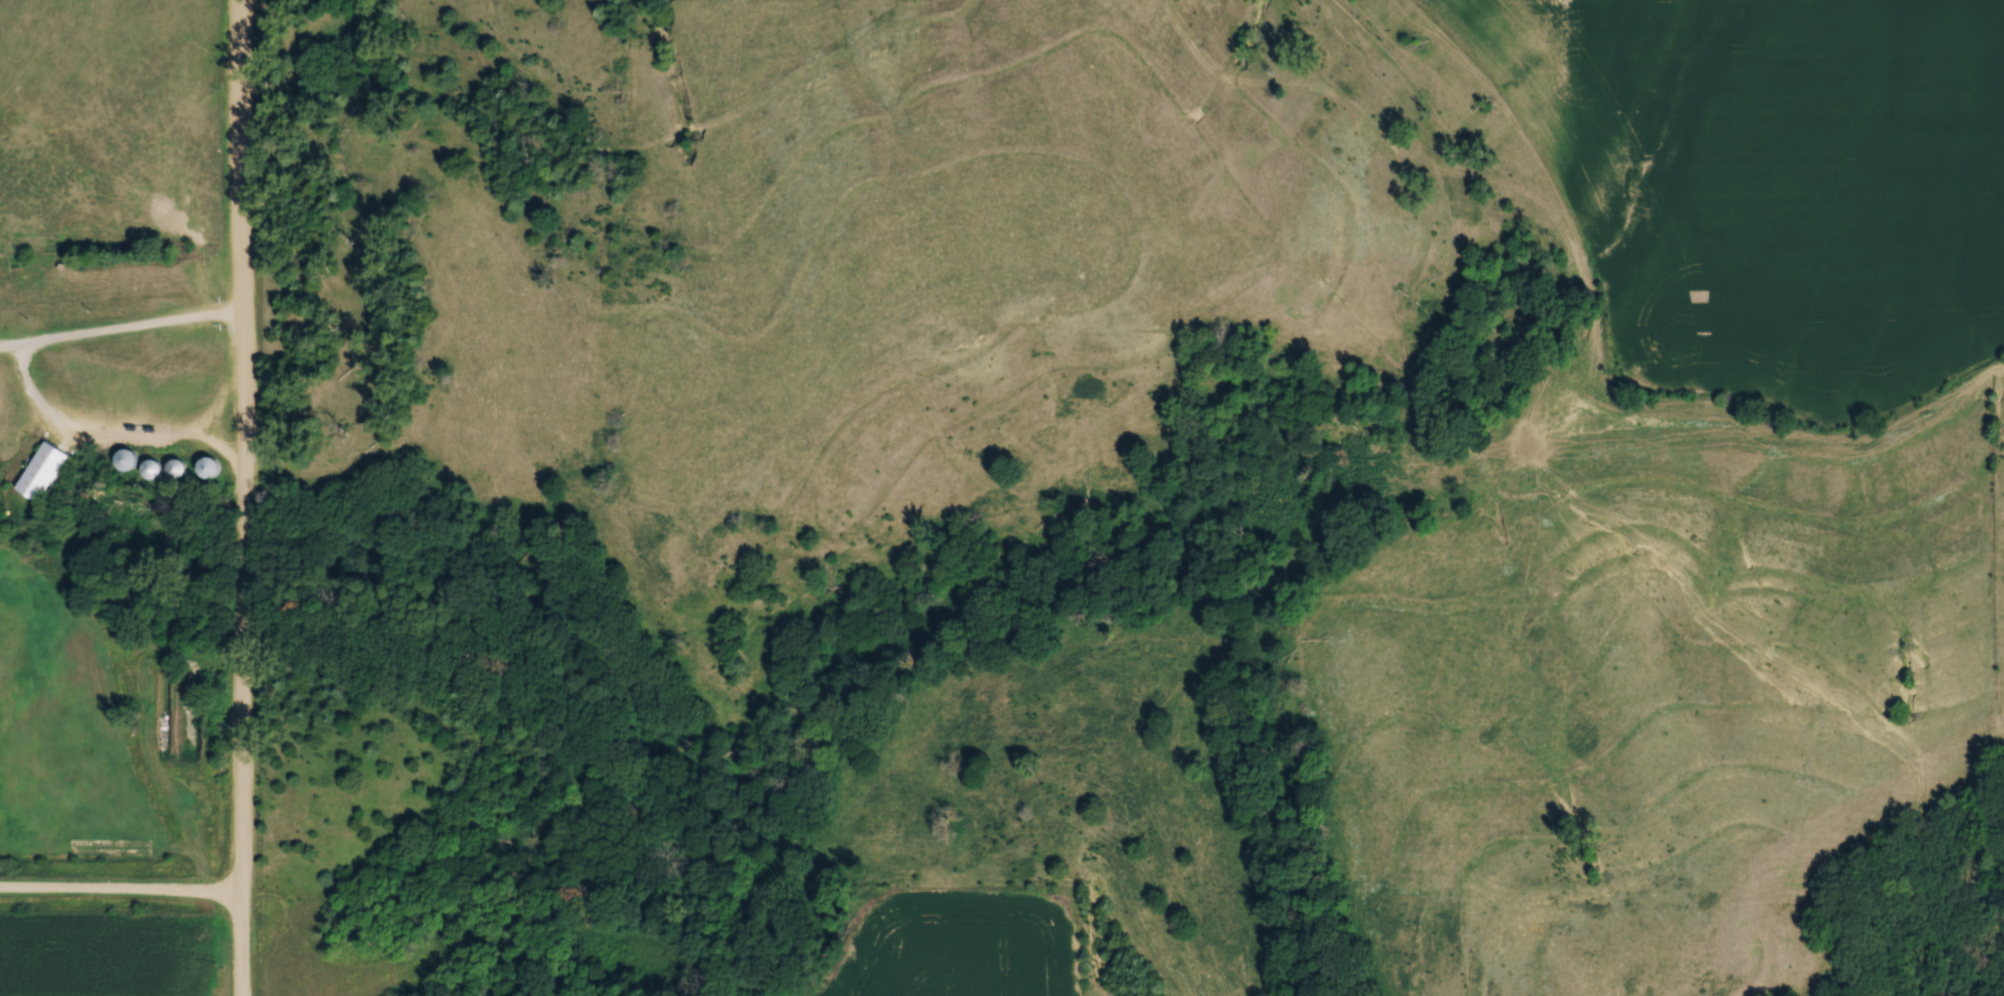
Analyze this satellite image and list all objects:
road: (237, 154)
road: (121, 329)
building: (212, 464)
building: (44, 467)
road: (241, 651)
road: (120, 890)

